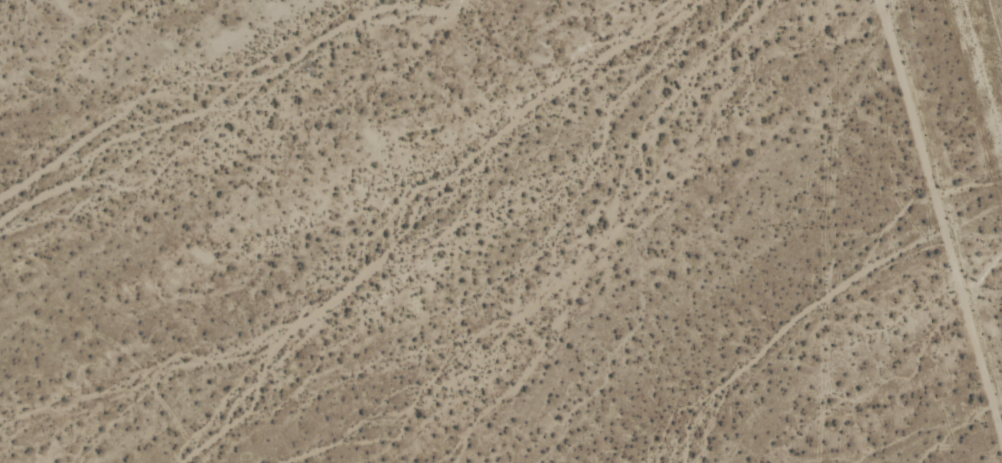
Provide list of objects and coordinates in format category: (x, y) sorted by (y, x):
road: (940, 223)

